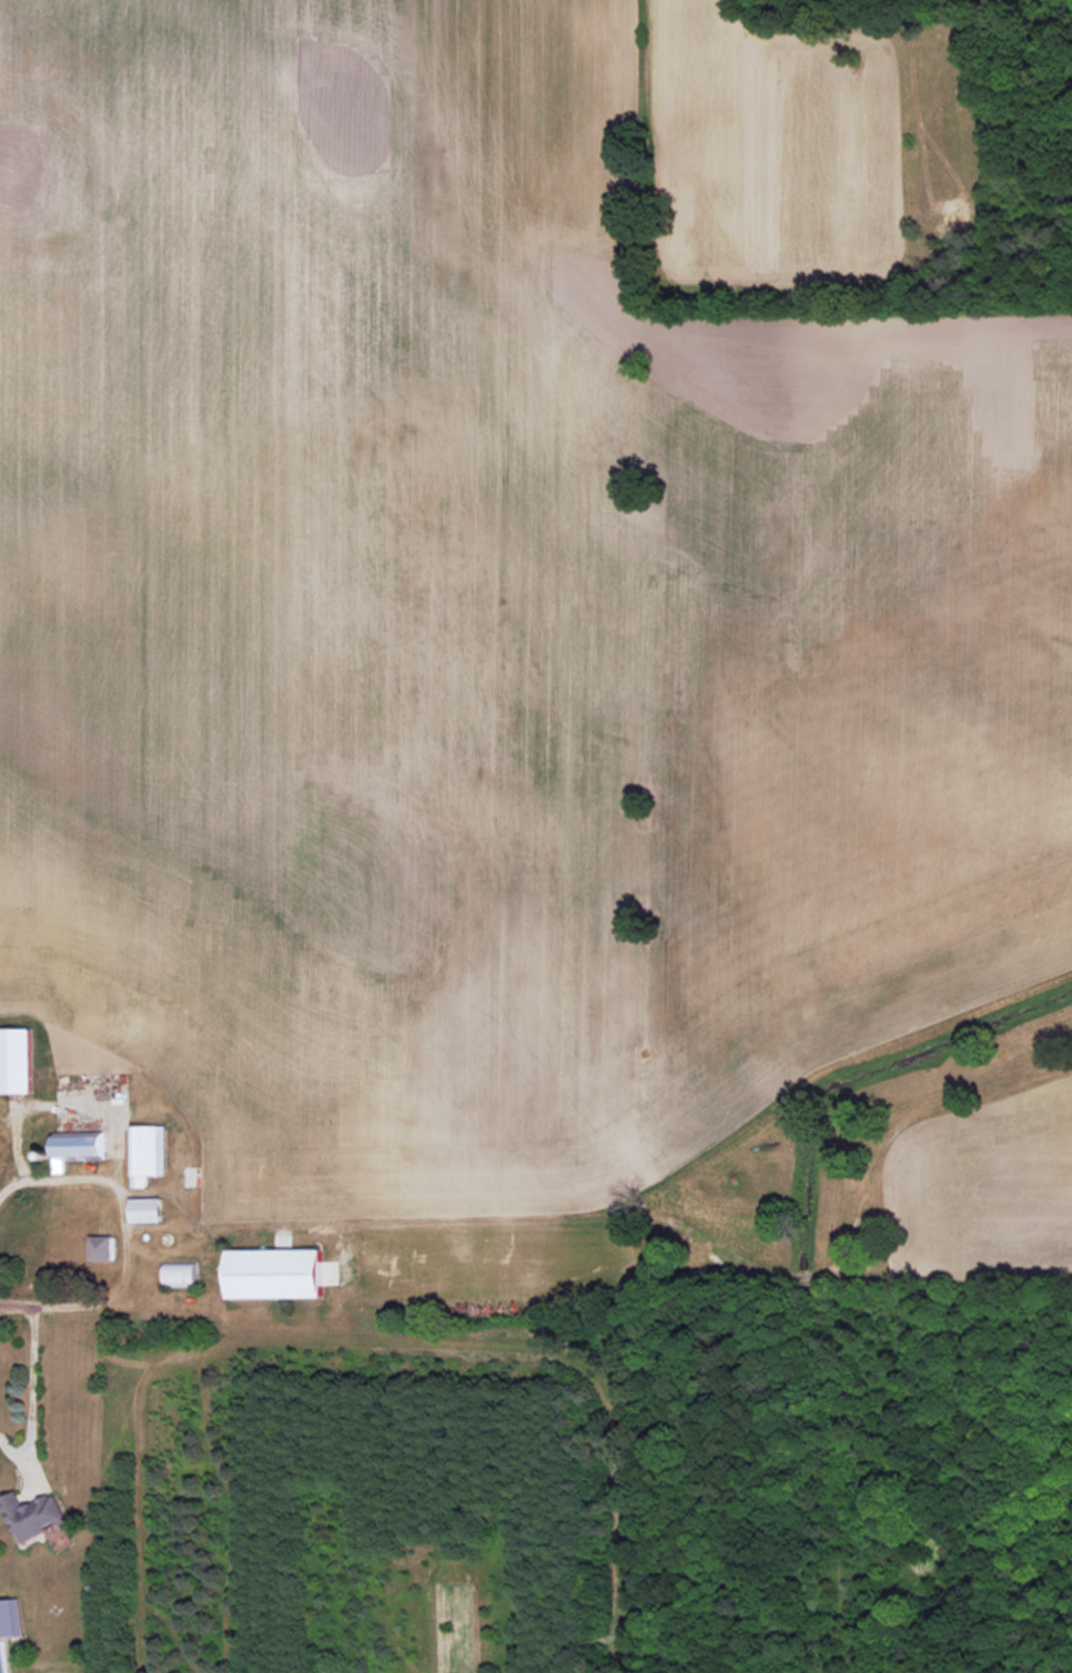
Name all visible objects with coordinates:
building: (16, 1061)
building: (79, 1147)
building: (148, 1153)
road: (120, 1193)
building: (146, 1209)
building: (102, 1248)
building: (276, 1273)
building: (181, 1274)
road: (45, 1302)
road: (31, 1393)
building: (34, 1514)
building: (10, 1618)

